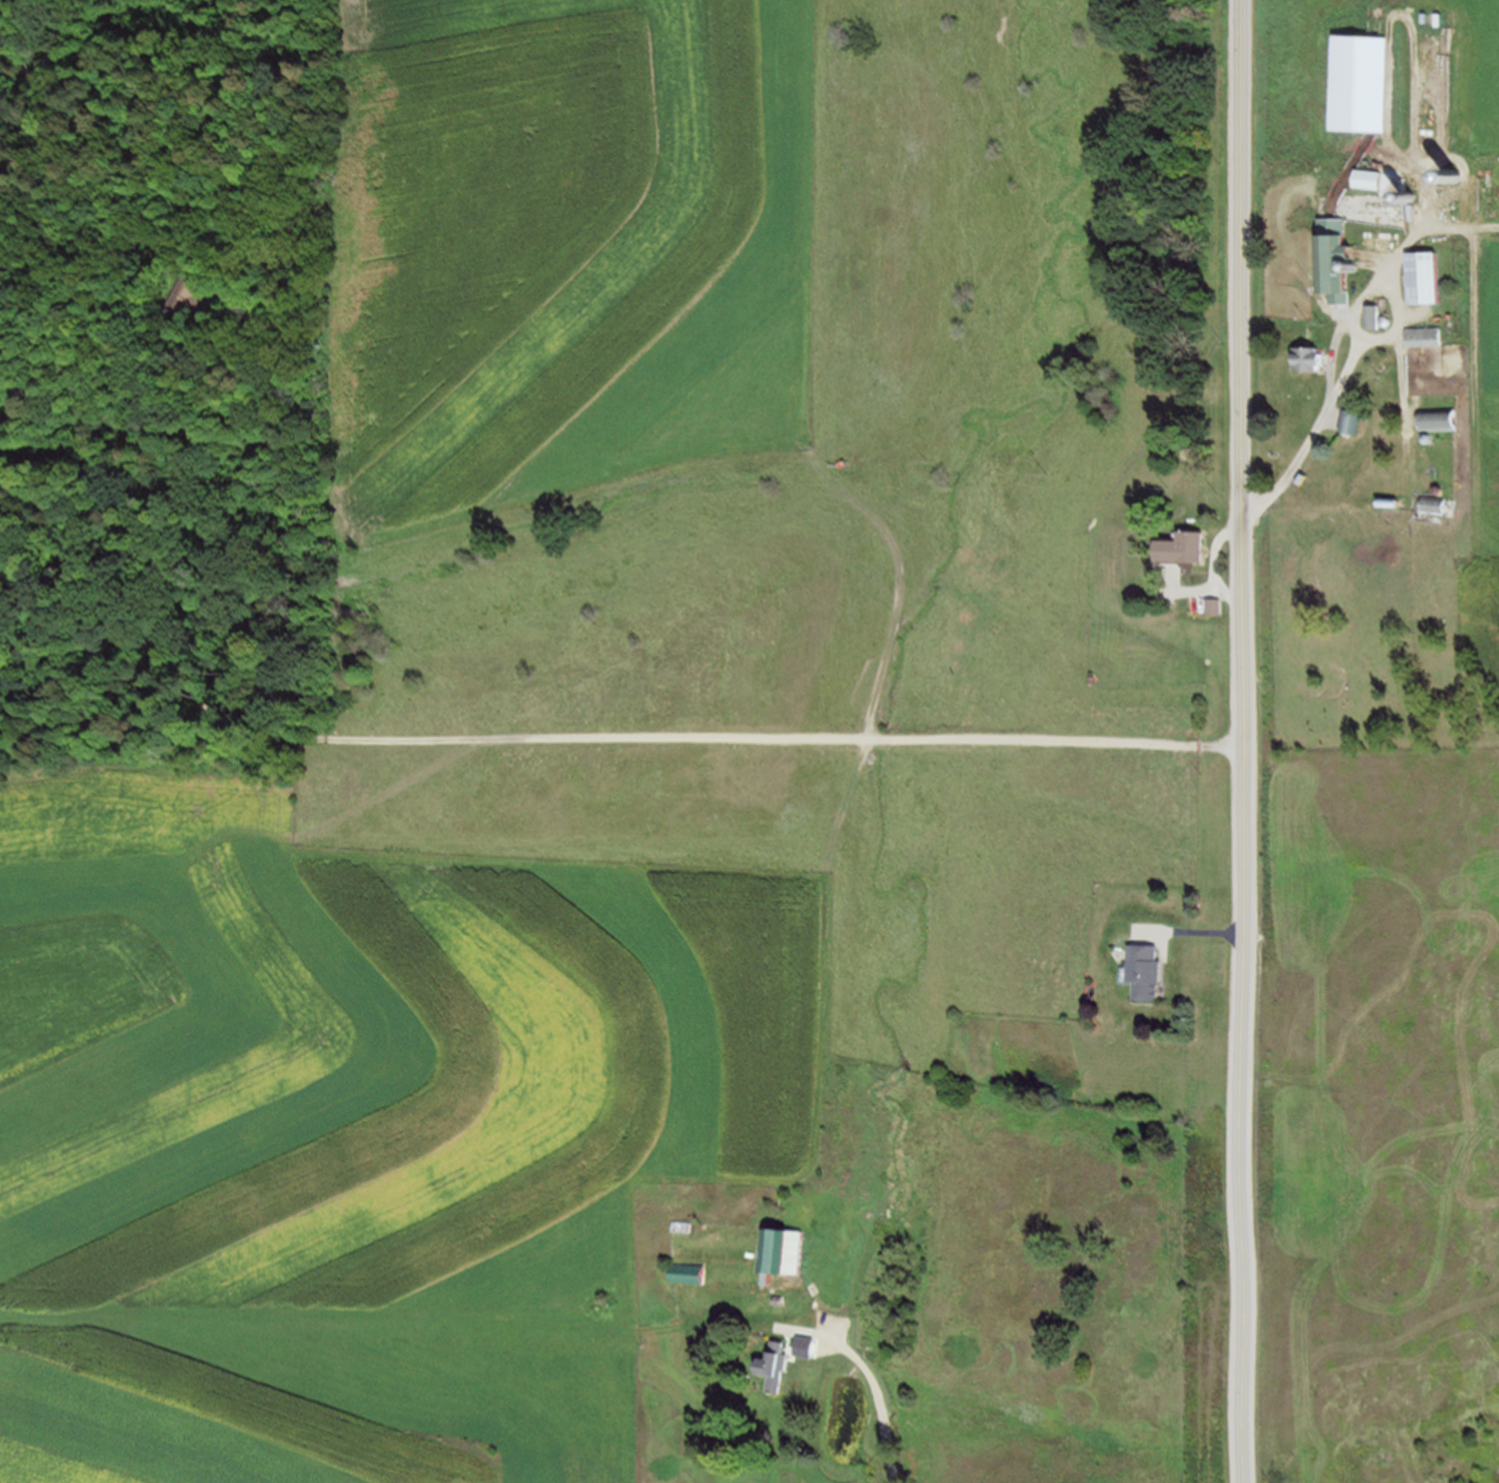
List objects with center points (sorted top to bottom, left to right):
building: (1375, 183)
road: (1464, 239)
building: (1341, 263)
building: (1429, 282)
building: (188, 292)
building: (1428, 342)
building: (1319, 361)
road: (1350, 382)
building: (1356, 421)
building: (1443, 424)
building: (1438, 509)
building: (1188, 555)
road: (1217, 566)
road: (1248, 741)
road: (790, 746)
road: (1201, 932)
building: (1152, 973)
building: (688, 1227)
building: (785, 1259)
building: (690, 1282)
road: (873, 1374)
building: (778, 1376)

